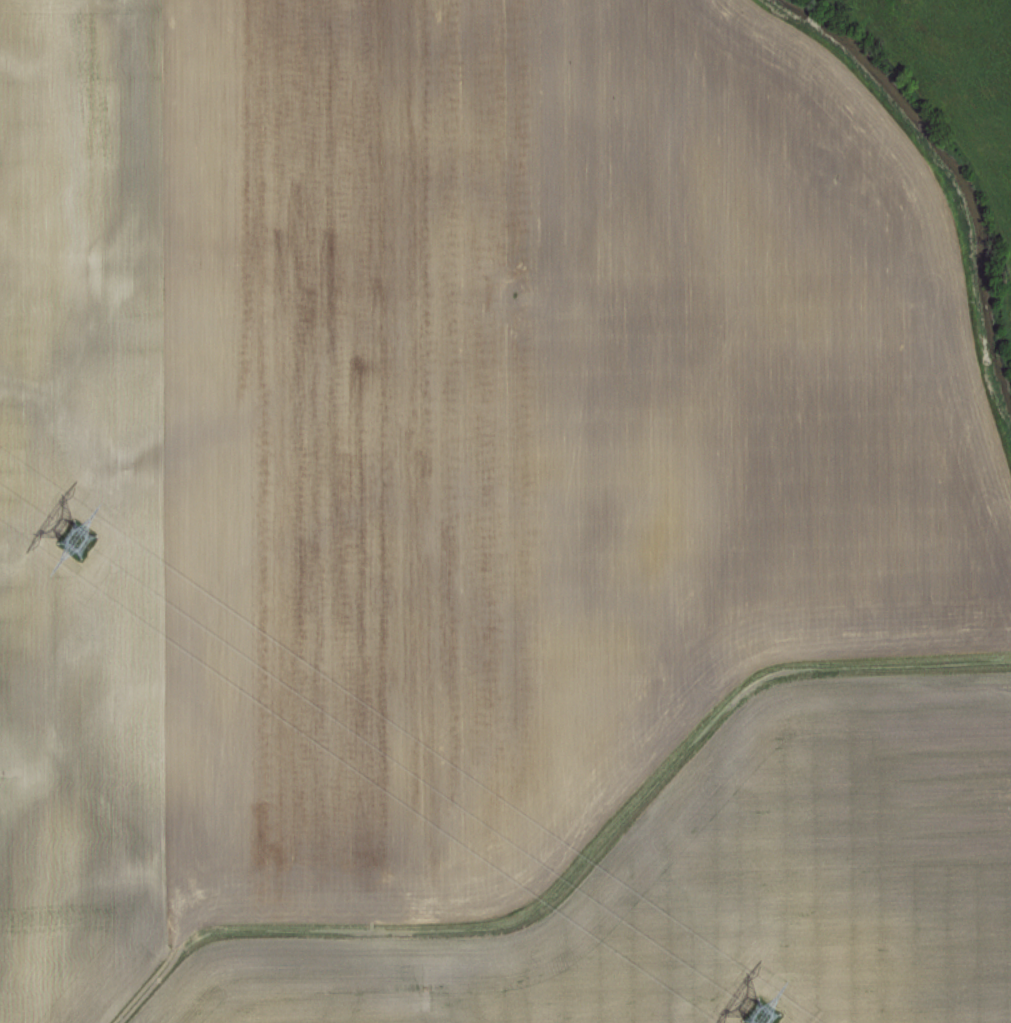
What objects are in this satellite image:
power tower: (72, 554)
power tower: (763, 1018)

